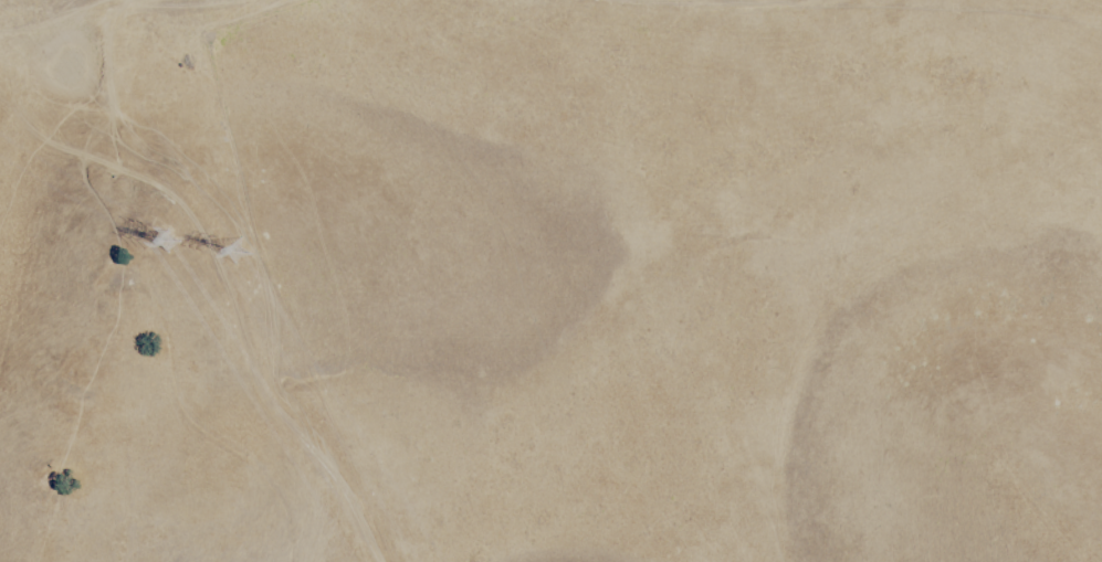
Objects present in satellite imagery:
road: (52, 20)
power tower: (238, 254)
power tower: (170, 257)
park: (550, 280)
road: (241, 286)

